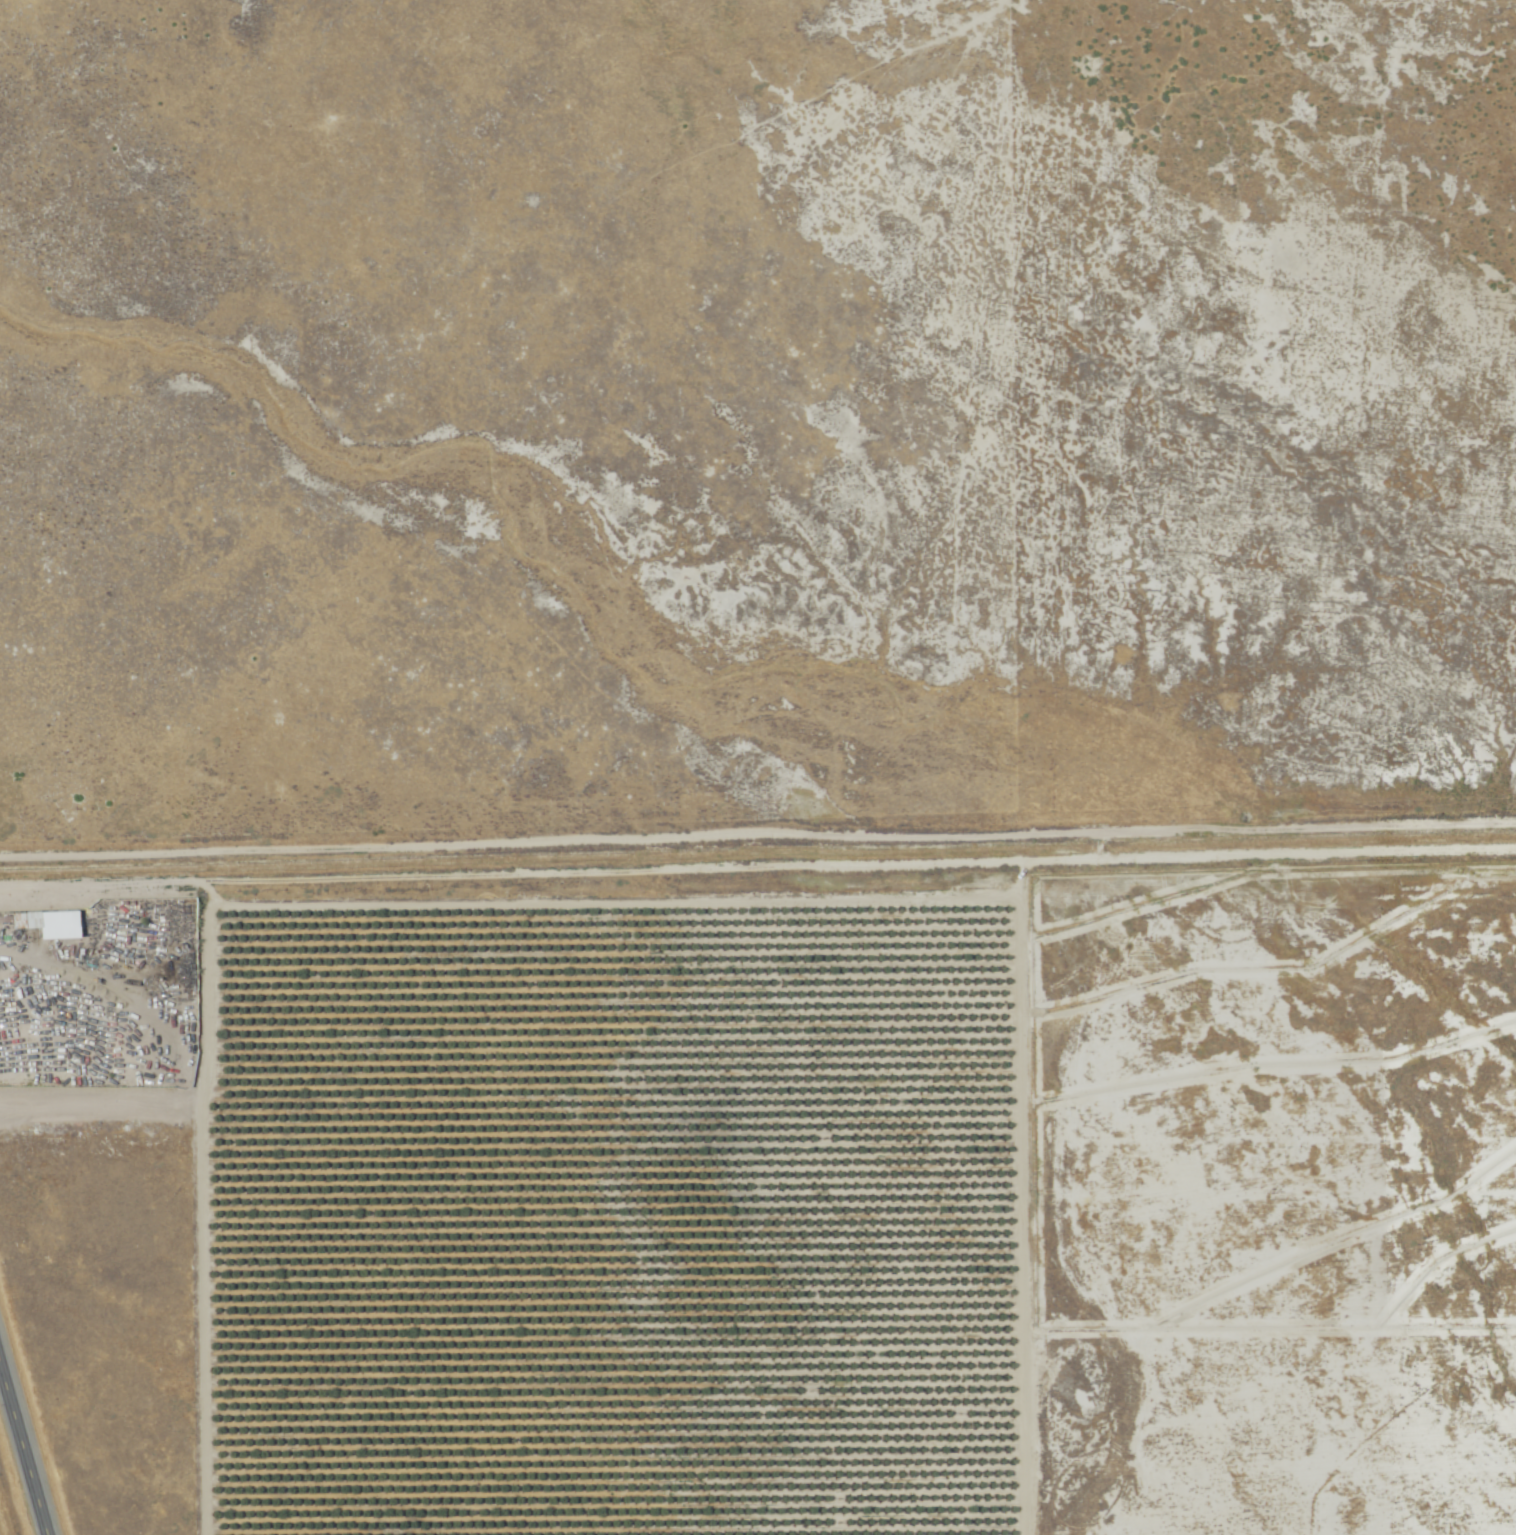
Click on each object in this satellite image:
crop: (616, 1211)
road: (24, 1444)

